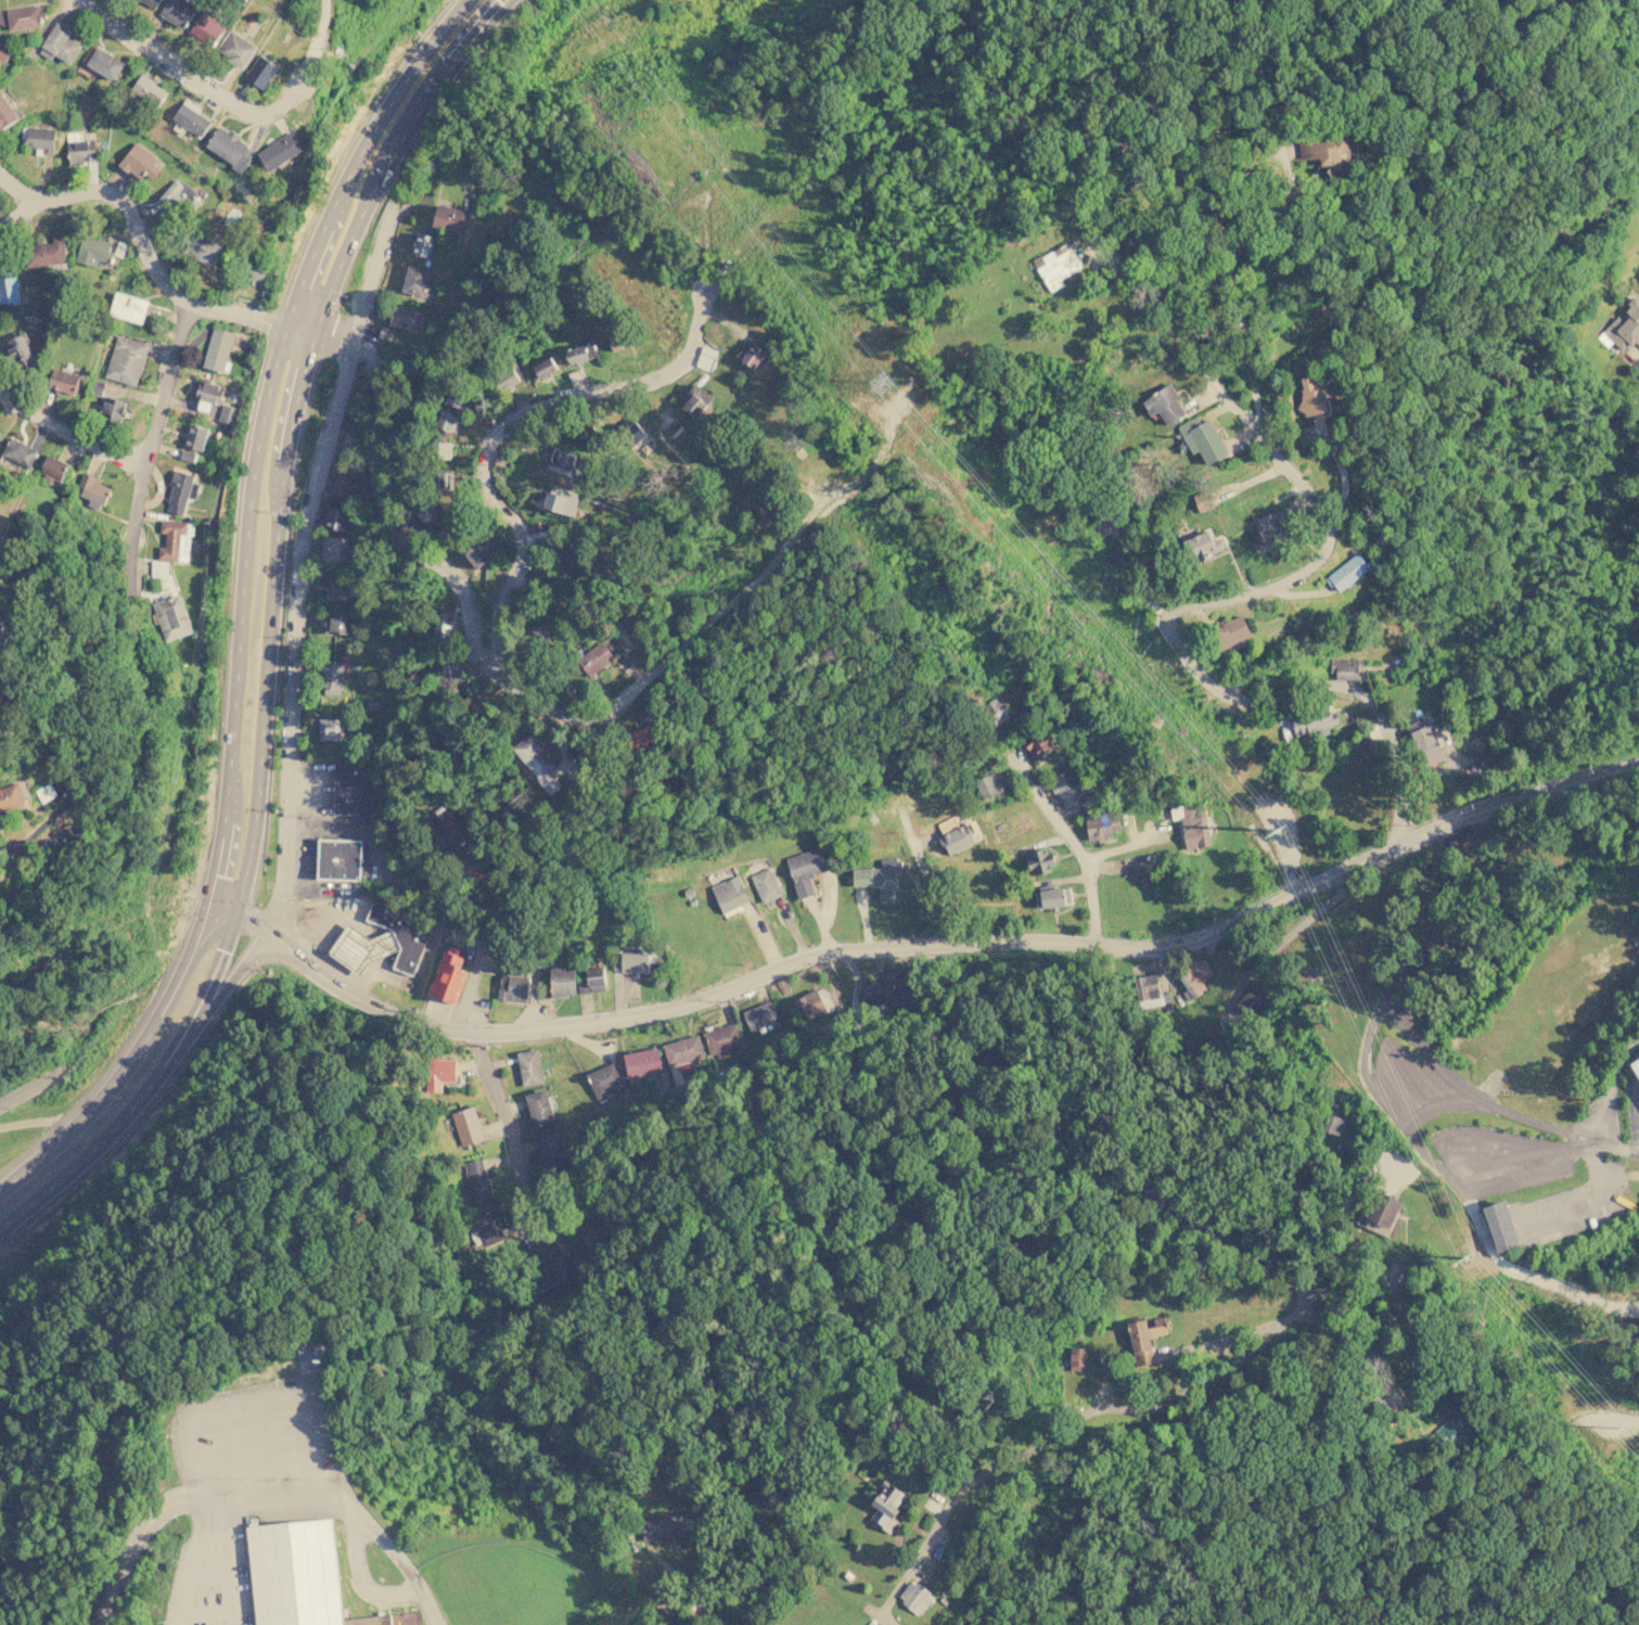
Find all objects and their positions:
building: (152, 2)
road: (465, 2)
road: (496, 5)
road: (504, 7)
building: (179, 11)
building: (25, 16)
building: (2, 17)
building: (208, 27)
building: (60, 43)
building: (238, 50)
building: (3, 51)
building: (105, 63)
building: (263, 72)
building: (149, 90)
road: (227, 98)
building: (5, 114)
building: (192, 117)
building: (40, 140)
building: (230, 146)
building: (80, 148)
building: (281, 149)
building: (1330, 152)
road: (440, 155)
road: (388, 159)
building: (140, 162)
building: (181, 196)
road: (15, 212)
building: (448, 220)
road: (1241, 235)
road: (142, 242)
building: (423, 245)
building: (203, 249)
building: (98, 252)
building: (48, 255)
building: (1050, 270)
building: (255, 271)
building: (112, 272)
building: (1638, 277)
building: (414, 280)
building: (9, 287)
building: (129, 308)
building: (406, 319)
building: (1623, 327)
road: (300, 328)
building: (618, 341)
building: (218, 349)
building: (20, 354)
building: (580, 354)
building: (750, 354)
building: (412, 355)
building: (126, 361)
building: (545, 367)
building: (503, 380)
building: (63, 381)
road: (166, 381)
building: (94, 388)
building: (1313, 394)
building: (208, 397)
building: (456, 398)
building: (695, 400)
building: (1163, 404)
building: (113, 410)
building: (228, 413)
building: (449, 422)
road: (497, 427)
road: (67, 432)
building: (632, 432)
building: (0, 433)
building: (195, 438)
building: (1202, 438)
building: (441, 450)
building: (18, 451)
building: (187, 455)
building: (53, 471)
building: (343, 485)
building: (91, 491)
building: (181, 491)
building: (1203, 501)
building: (561, 502)
building: (427, 512)
road: (382, 514)
building: (336, 519)
building: (1106, 527)
building: (1268, 529)
building: (176, 541)
building: (1201, 546)
building: (335, 549)
building: (571, 552)
building: (475, 555)
road: (298, 563)
building: (159, 570)
building: (1346, 572)
building: (341, 589)
road: (1228, 597)
road: (242, 609)
road: (270, 617)
building: (174, 618)
building: (338, 624)
building: (441, 631)
building: (1229, 632)
building: (539, 634)
building: (3, 637)
building: (593, 661)
road: (656, 665)
building: (1346, 668)
building: (450, 674)
building: (332, 678)
building: (10, 689)
road: (139, 703)
building: (470, 705)
building: (997, 709)
building: (1313, 720)
building: (329, 728)
building: (4, 729)
building: (639, 740)
building: (1424, 742)
building: (1037, 744)
building: (537, 762)
building: (987, 785)
building: (1066, 790)
building: (353, 792)
building: (47, 794)
building: (11, 797)
building: (1101, 823)
building: (1191, 826)
building: (458, 831)
building: (956, 839)
road: (1078, 848)
building: (338, 859)
building: (1038, 859)
building: (805, 869)
building: (879, 878)
building: (765, 884)
building: (1053, 896)
traffic signals: (210, 897)
road: (223, 901)
traffic signals: (236, 908)
building: (383, 939)
road: (931, 946)
building: (630, 961)
building: (447, 975)
building: (1193, 977)
building: (562, 981)
building: (591, 981)
building: (513, 988)
building: (873, 991)
building: (1150, 993)
road: (218, 996)
building: (1252, 1001)
building: (808, 1006)
building: (759, 1016)
road: (1375, 1016)
building: (722, 1040)
building: (682, 1049)
building: (642, 1062)
building: (1636, 1065)
building: (529, 1066)
building: (438, 1072)
building: (605, 1080)
road: (31, 1084)
road: (148, 1089)
road: (1469, 1092)
building: (539, 1106)
road: (1596, 1113)
road: (37, 1123)
building: (1332, 1124)
building: (466, 1126)
building: (551, 1150)
road: (1525, 1169)
building: (476, 1179)
building: (1380, 1213)
road: (934, 1220)
building: (1499, 1226)
building: (486, 1228)
building: (597, 1233)
building: (561, 1274)
building: (1143, 1338)
building: (1077, 1358)
building: (1454, 1430)
road: (1062, 1431)
building: (886, 1505)
road: (354, 1509)
building: (667, 1526)
road: (140, 1544)
road: (196, 1568)
building: (298, 1575)
park: (500, 1585)
building: (913, 1597)

